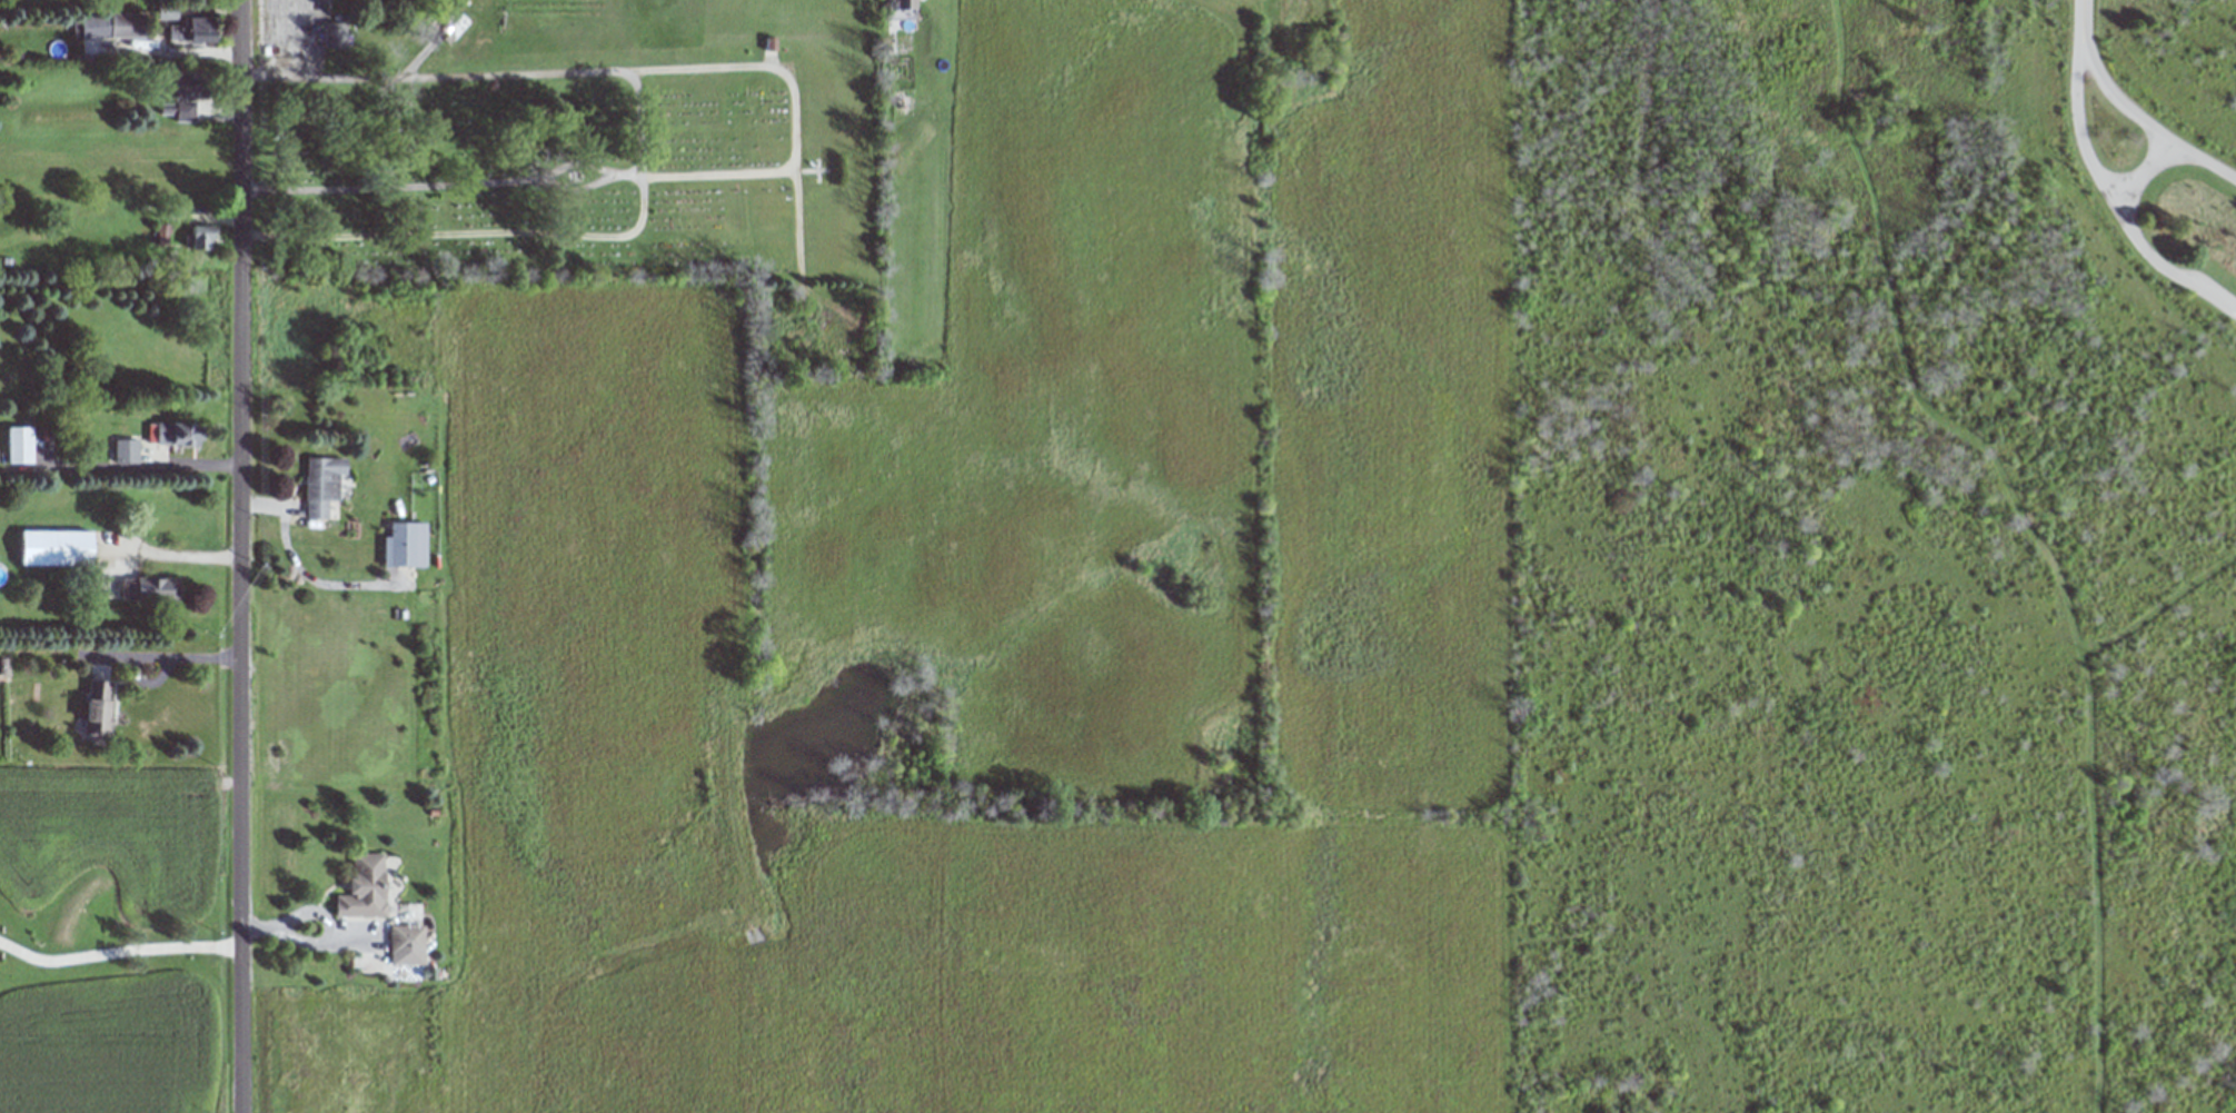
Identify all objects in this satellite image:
building: (898, 7)
building: (1318, 11)
road: (2076, 23)
building: (108, 26)
building: (193, 29)
building: (331, 34)
building: (181, 105)
road: (2151, 115)
road: (2146, 169)
road: (2115, 203)
building: (196, 237)
building: (172, 433)
building: (18, 448)
building: (123, 450)
building: (320, 485)
building: (397, 545)
building: (53, 548)
road: (177, 551)
road: (244, 556)
building: (148, 589)
road: (152, 652)
building: (97, 709)
building: (361, 888)
building: (404, 940)
road: (118, 946)

